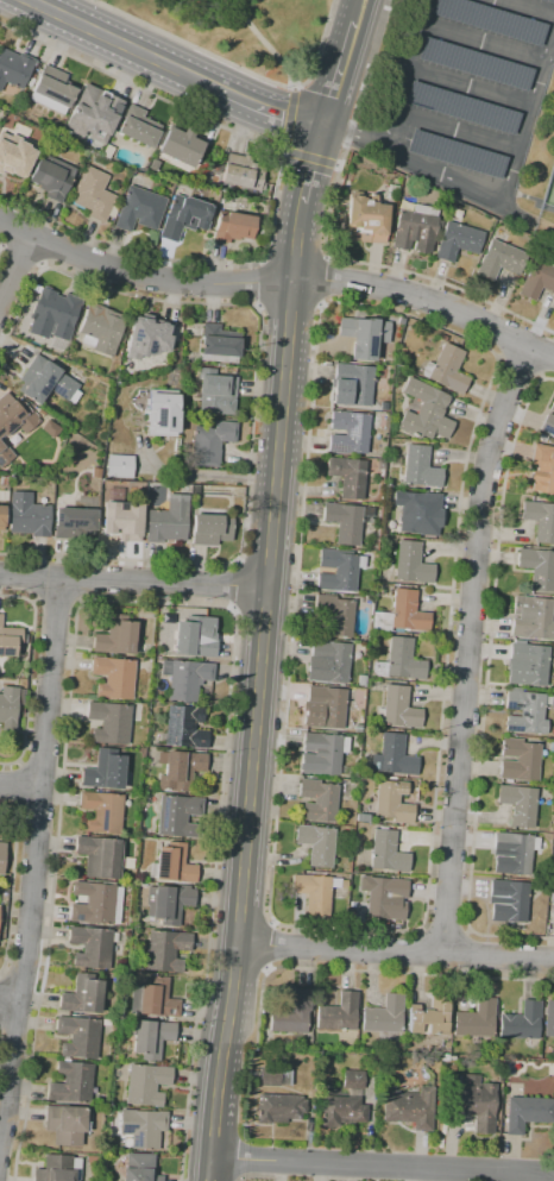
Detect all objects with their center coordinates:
building: (549, 1)
road: (202, 7)
road: (527, 7)
road: (358, 12)
building: (491, 20)
rooftop solar panel: (491, 20)
park: (241, 30)
road: (109, 38)
road: (484, 42)
road: (264, 44)
building: (477, 63)
rooftop solar panel: (474, 67)
building: (14, 68)
road: (237, 68)
road: (404, 73)
road: (338, 75)
road: (471, 87)
building: (52, 90)
parking lot: (470, 96)
road: (256, 106)
building: (462, 107)
rooftop solar panel: (461, 108)
building: (93, 114)
building: (138, 127)
road: (458, 130)
building: (181, 145)
road: (283, 147)
building: (107, 151)
building: (457, 153)
building: (14, 155)
rooftop solar panel: (455, 155)
building: (97, 162)
road: (310, 162)
building: (153, 165)
building: (241, 172)
building: (51, 177)
road: (278, 188)
building: (391, 190)
park: (550, 191)
building: (94, 195)
road: (491, 195)
building: (139, 209)
building: (455, 213)
building: (184, 216)
building: (339, 218)
building: (365, 219)
road: (528, 219)
road: (12, 226)
building: (233, 227)
building: (415, 228)
building: (457, 241)
road: (49, 243)
road: (323, 244)
road: (20, 257)
building: (499, 259)
road: (14, 266)
road: (323, 279)
building: (537, 281)
road: (101, 283)
road: (262, 283)
road: (277, 283)
road: (321, 307)
building: (53, 314)
building: (401, 320)
building: (101, 329)
road: (497, 331)
rooftop solar panel: (137, 337)
building: (147, 337)
building: (364, 337)
building: (219, 344)
rooftop solar panel: (367, 346)
rooftop solar panel: (152, 351)
building: (390, 360)
road: (520, 368)
road: (548, 368)
building: (447, 370)
building: (48, 383)
building: (352, 384)
rooftop solar panel: (46, 387)
rooftop solar panel: (59, 391)
building: (214, 394)
building: (383, 406)
building: (552, 407)
building: (424, 412)
rooftop solar panel: (156, 413)
building: (163, 413)
rooftop solar panel: (20, 414)
building: (13, 423)
rooftop solar panel: (166, 423)
rooftop solar panel: (353, 425)
building: (548, 425)
rooftop solar panel: (14, 426)
rooftop solar panel: (547, 429)
building: (348, 433)
building: (209, 442)
rooftop solar panel: (339, 448)
building: (394, 461)
building: (379, 464)
building: (119, 466)
building: (420, 467)
building: (542, 469)
building: (95, 473)
building: (347, 476)
road: (209, 477)
building: (195, 489)
building: (418, 513)
building: (30, 514)
building: (2, 517)
building: (540, 520)
building: (121, 521)
building: (168, 521)
building: (347, 521)
building: (74, 522)
building: (210, 529)
road: (239, 552)
road: (237, 563)
building: (411, 564)
building: (539, 567)
building: (338, 570)
road: (133, 583)
road: (235, 585)
road: (15, 595)
road: (33, 601)
road: (57, 601)
road: (152, 601)
road: (232, 607)
building: (335, 614)
building: (402, 615)
building: (533, 618)
building: (115, 636)
building: (195, 636)
building: (367, 637)
building: (8, 640)
road: (470, 645)
rooftop solar panel: (1, 652)
building: (328, 661)
building: (399, 661)
building: (527, 664)
building: (113, 677)
building: (185, 678)
road: (485, 686)
road: (29, 690)
road: (259, 690)
building: (21, 697)
building: (552, 702)
building: (323, 706)
rooftop solar panel: (511, 706)
building: (7, 709)
building: (398, 709)
building: (525, 712)
building: (109, 722)
building: (183, 728)
rooftop solar panel: (512, 730)
building: (550, 747)
building: (322, 754)
building: (395, 756)
building: (520, 760)
building: (178, 769)
building: (105, 771)
road: (20, 786)
building: (317, 800)
building: (394, 802)
building: (518, 803)
building: (102, 812)
building: (177, 816)
building: (316, 844)
building: (386, 852)
building: (514, 853)
building: (1, 855)
building: (100, 856)
road: (34, 860)
building: (127, 863)
rooftop solar panel: (157, 865)
building: (172, 865)
road: (11, 881)
building: (315, 893)
building: (384, 897)
building: (553, 897)
building: (508, 900)
building: (168, 903)
building: (96, 904)
building: (351, 916)
road: (445, 929)
road: (270, 946)
building: (90, 947)
building: (165, 950)
road: (396, 951)
road: (370, 970)
building: (83, 994)
road: (8, 998)
building: (155, 998)
building: (292, 1013)
building: (339, 1013)
building: (384, 1014)
building: (429, 1017)
building: (549, 1018)
building: (476, 1019)
building: (522, 1022)
building: (78, 1036)
building: (151, 1037)
building: (272, 1076)
building: (71, 1082)
building: (146, 1085)
building: (344, 1103)
building: (474, 1103)
building: (408, 1107)
building: (278, 1108)
building: (525, 1112)
building: (65, 1124)
building: (143, 1126)
road: (382, 1166)
building: (139, 1168)
building: (58, 1169)

